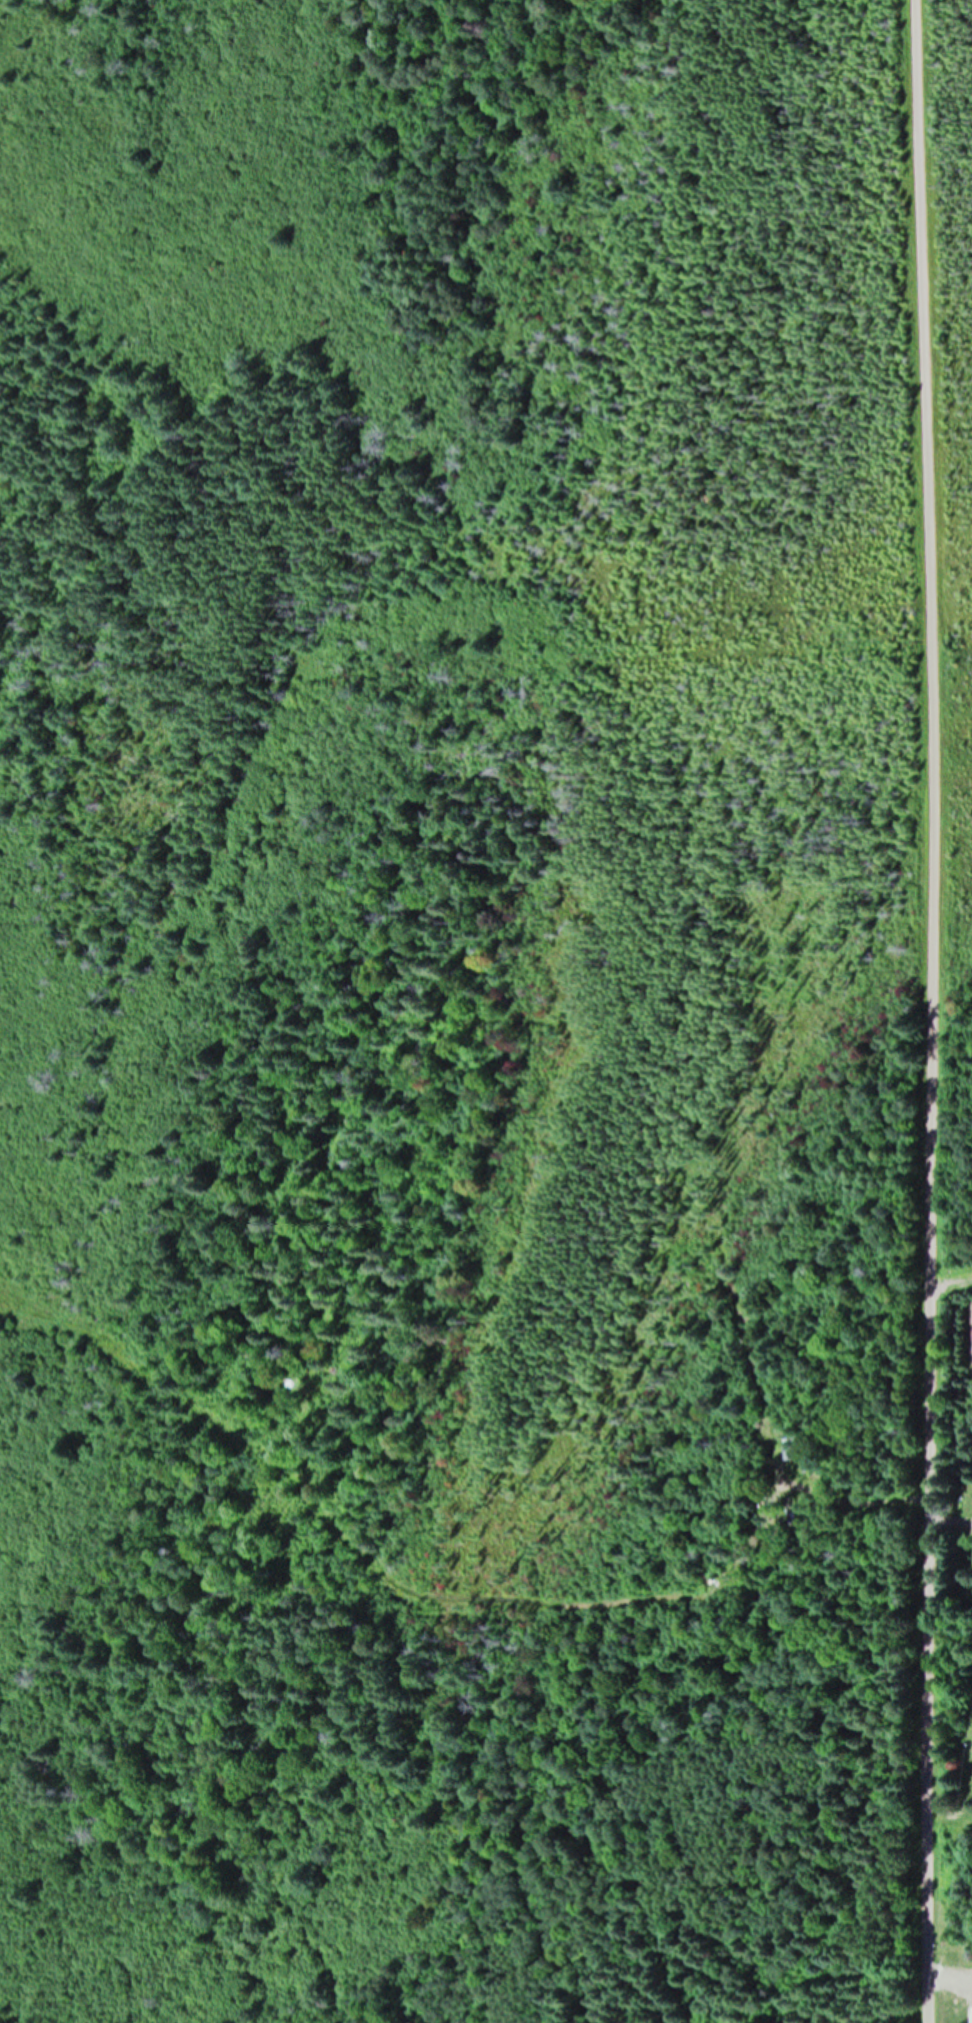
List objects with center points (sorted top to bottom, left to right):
road: (949, 1011)

